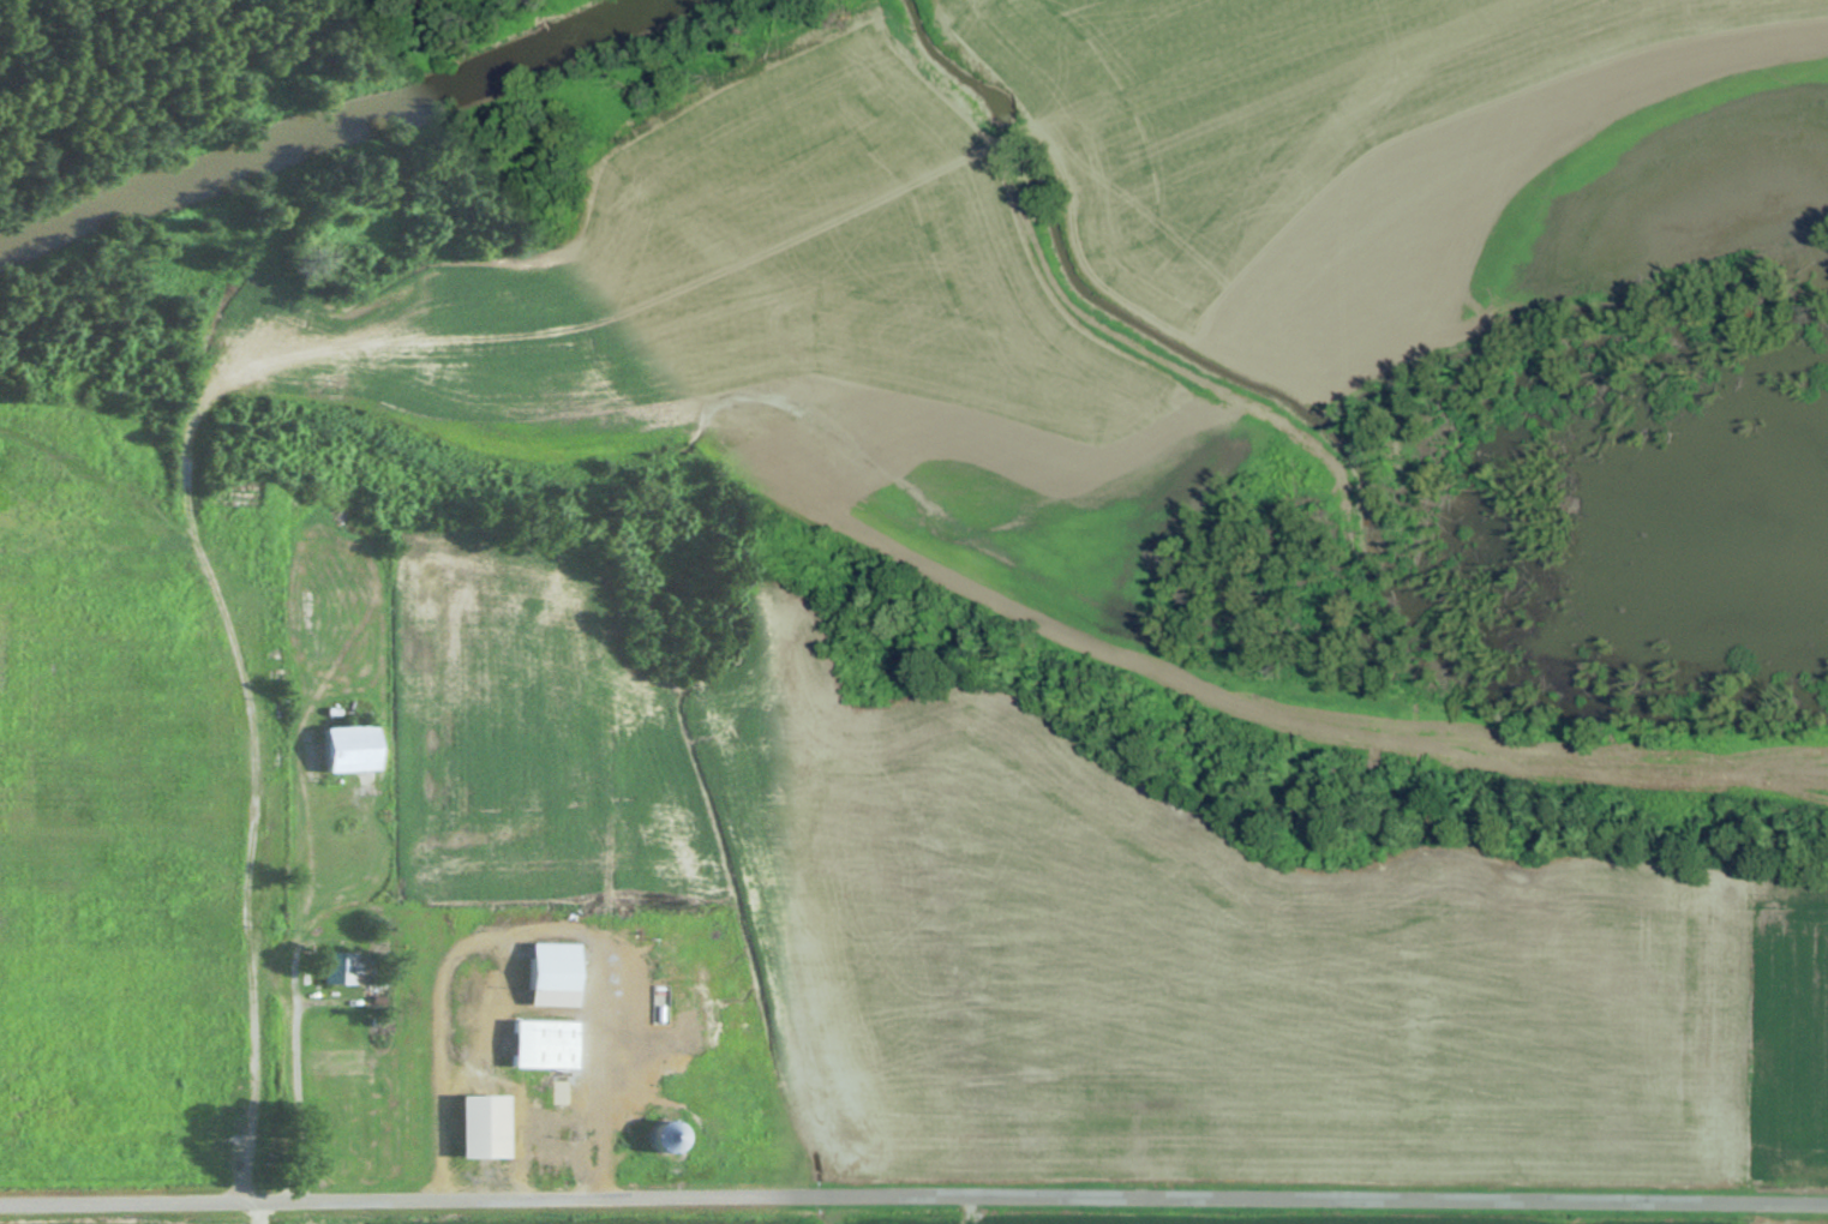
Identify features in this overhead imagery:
building: (341, 750)
road: (276, 918)
building: (336, 968)
building: (547, 976)
building: (539, 1046)
building: (477, 1128)
road: (798, 1216)

